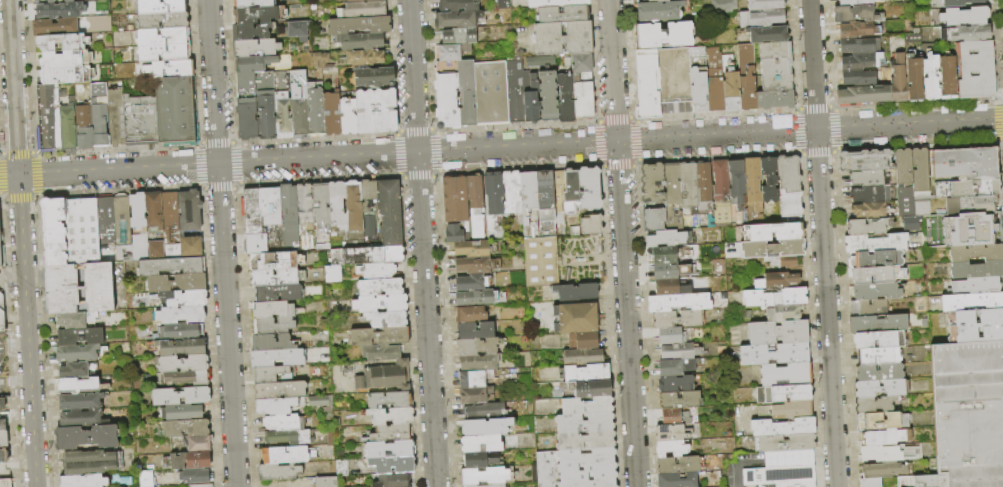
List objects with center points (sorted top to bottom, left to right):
building: (345, 0)
building: (650, 0)
building: (654, 0)
building: (35, 1)
building: (360, 1)
building: (68, 2)
building: (857, 2)
building: (959, 2)
building: (554, 3)
building: (252, 4)
building: (502, 4)
building: (764, 4)
building: (458, 5)
building: (722, 6)
building: (160, 7)
building: (365, 9)
building: (59, 11)
building: (658, 11)
building: (562, 14)
building: (853, 14)
building: (257, 15)
building: (964, 16)
building: (457, 19)
building: (761, 19)
building: (161, 21)
building: (358, 25)
building: (54, 27)
building: (861, 29)
building: (297, 30)
building: (250, 32)
building: (966, 33)
building: (767, 34)
building: (459, 35)
building: (663, 35)
building: (162, 37)
building: (910, 37)
building: (119, 38)
building: (562, 38)
building: (59, 42)
building: (360, 42)
building: (859, 46)
building: (255, 48)
building: (774, 50)
building: (163, 52)
building: (452, 52)
building: (364, 58)
building: (65, 59)
building: (284, 59)
building: (319, 60)
building: (539, 61)
building: (860, 62)
building: (254, 63)
building: (581, 65)
building: (445, 68)
building: (169, 69)
building: (976, 70)
building: (673, 74)
building: (775, 75)
building: (373, 77)
building: (746, 77)
building: (930, 77)
building: (861, 78)
building: (946, 78)
building: (697, 79)
building: (714, 79)
building: (914, 79)
building: (646, 82)
building: (255, 83)
road: (12, 88)
building: (878, 88)
building: (514, 91)
building: (731, 91)
building: (466, 92)
building: (490, 93)
building: (530, 93)
building: (564, 94)
building: (547, 98)
building: (582, 99)
building: (774, 99)
building: (446, 101)
building: (298, 102)
building: (282, 105)
building: (314, 110)
building: (375, 111)
building: (175, 112)
building: (331, 114)
building: (98, 116)
building: (347, 116)
building: (114, 117)
building: (47, 118)
building: (265, 118)
building: (246, 119)
building: (139, 121)
building: (83, 128)
building: (66, 129)
road: (510, 148)
building: (863, 160)
building: (964, 163)
building: (901, 167)
building: (918, 170)
road: (9, 178)
traffic signals: (18, 178)
building: (867, 178)
building: (768, 180)
building: (719, 181)
building: (651, 183)
building: (736, 186)
building: (788, 186)
building: (556, 187)
building: (688, 187)
building: (703, 187)
building: (588, 188)
building: (569, 189)
building: (964, 189)
building: (511, 192)
building: (752, 192)
building: (869, 193)
building: (367, 195)
building: (671, 196)
building: (454, 199)
building: (492, 199)
building: (528, 204)
building: (545, 204)
building: (304, 205)
building: (320, 205)
building: (474, 205)
building: (969, 205)
building: (336, 206)
building: (352, 207)
building: (260, 209)
building: (910, 209)
building: (153, 210)
building: (868, 210)
building: (137, 211)
building: (0, 212)
building: (388, 212)
building: (721, 215)
building: (289, 218)
building: (652, 219)
building: (105, 220)
building: (189, 223)
building: (170, 225)
building: (591, 225)
building: (368, 226)
building: (867, 226)
building: (969, 229)
building: (53, 230)
building: (81, 231)
building: (124, 231)
building: (771, 232)
building: (454, 234)
building: (667, 238)
building: (264, 241)
road: (221, 243)
road: (421, 243)
road: (622, 243)
road: (822, 243)
building: (874, 243)
building: (473, 248)
building: (770, 248)
building: (154, 250)
building: (974, 253)
building: (667, 254)
building: (365, 255)
building: (2, 256)
building: (875, 259)
building: (275, 261)
building: (540, 261)
building: (781, 261)
building: (470, 265)
building: (170, 266)
building: (975, 270)
building: (375, 271)
building: (667, 271)
road: (11, 273)
building: (332, 273)
building: (564, 273)
building: (873, 275)
building: (276, 277)
building: (776, 281)
building: (175, 282)
building: (469, 283)
building: (974, 285)
building: (378, 287)
building: (668, 287)
building: (78, 288)
building: (873, 291)
building: (277, 292)
building: (575, 292)
building: (181, 298)
building: (475, 298)
building: (773, 298)
building: (971, 301)
building: (677, 302)
building: (379, 303)
building: (866, 307)
building: (271, 309)
building: (783, 312)
building: (177, 314)
building: (469, 315)
building: (574, 318)
building: (0, 319)
building: (73, 319)
building: (386, 319)
building: (676, 319)
building: (877, 324)
building: (272, 325)
building: (974, 326)
building: (474, 330)
building: (178, 331)
road: (26, 332)
building: (777, 332)
building: (378, 336)
building: (668, 336)
building: (79, 337)
building: (582, 340)
building: (877, 340)
building: (271, 342)
building: (476, 346)
building: (180, 347)
road: (14, 348)
road: (0, 349)
building: (679, 351)
building: (76, 353)
building: (383, 353)
building: (773, 354)
building: (877, 356)
building: (580, 357)
building: (276, 358)
building: (477, 362)
building: (182, 364)
building: (674, 367)
parking lot: (2, 370)
building: (74, 370)
building: (878, 372)
building: (586, 373)
building: (784, 374)
building: (271, 375)
building: (389, 378)
building: (184, 379)
building: (471, 379)
road: (17, 380)
road: (3, 381)
building: (674, 384)
building: (77, 385)
building: (880, 388)
building: (591, 389)
building: (279, 390)
building: (743, 394)
building: (782, 394)
building: (474, 395)
building: (180, 396)
building: (388, 399)
building: (679, 401)
building: (319, 403)
building: (2, 404)
building: (586, 405)
building: (873, 405)
building: (274, 406)
building: (78, 410)
building: (792, 410)
building: (482, 411)
building: (181, 412)
building: (4, 413)
building: (968, 413)
building: (390, 416)
building: (674, 417)
building: (876, 421)
building: (583, 422)
building: (282, 423)
building: (2, 424)
building: (185, 427)
building: (483, 427)
building: (782, 427)
building: (389, 433)
building: (669, 433)
building: (330, 436)
building: (85, 437)
building: (883, 437)
building: (286, 438)
building: (3, 439)
building: (584, 440)
building: (197, 443)
building: (785, 443)
building: (480, 444)
building: (389, 449)
building: (670, 449)
building: (890, 453)
building: (286, 455)
building: (4, 456)
building: (789, 459)
building: (477, 460)
building: (187, 461)
building: (87, 462)
building: (391, 465)
building: (679, 465)
building: (341, 467)
building: (575, 468)
building: (879, 470)
building: (277, 472)
building: (778, 475)
building: (192, 476)
building: (485, 476)
building: (145, 479)
building: (4, 480)
building: (391, 480)
building: (676, 480)
building: (83, 481)
building: (323, 481)
building: (904, 481)
building: (929, 481)
building: (869, 482)
building: (797, 484)
building: (199, 485)
building: (497, 485)

